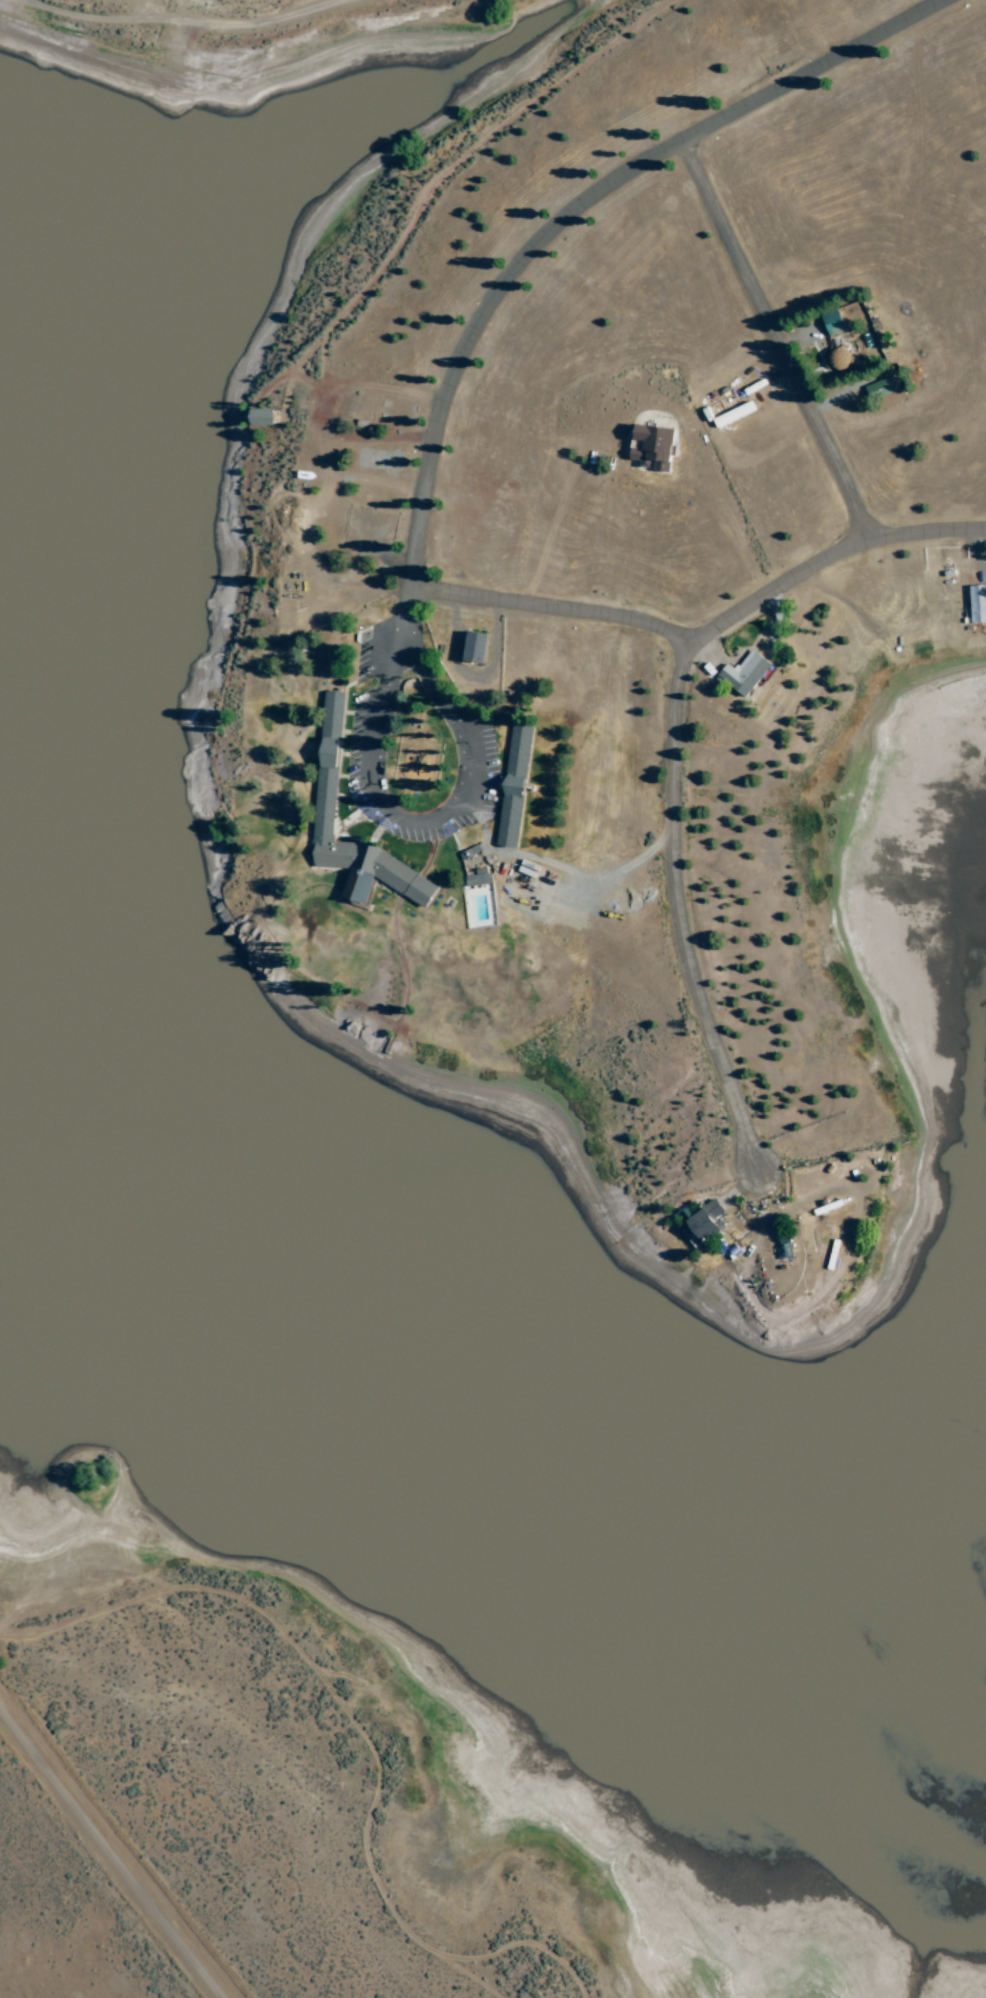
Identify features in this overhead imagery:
road: (355, 3)
road: (584, 206)
building: (834, 322)
road: (783, 340)
building: (880, 388)
building: (735, 414)
building: (262, 417)
building: (655, 447)
road: (485, 601)
building: (978, 604)
road: (633, 625)
building: (477, 648)
building: (746, 674)
road: (469, 696)
road: (678, 740)
building: (515, 786)
building: (326, 806)
building: (469, 853)
building: (479, 877)
building: (706, 1221)
road: (110, 1853)

